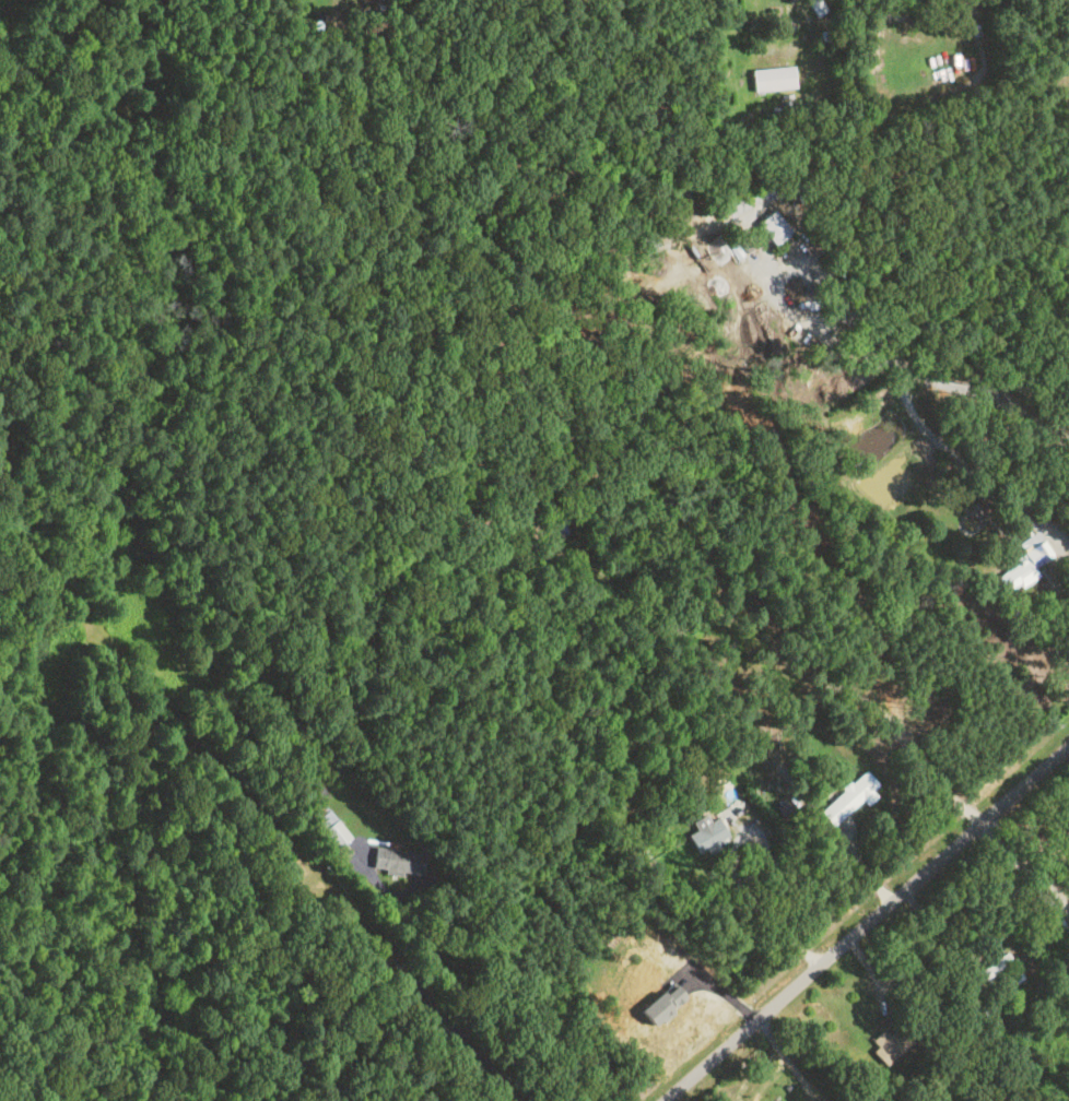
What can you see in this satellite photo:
building: (771, 78)
building: (772, 226)
road: (780, 271)
building: (982, 451)
road: (963, 463)
building: (1025, 560)
road: (933, 779)
building: (847, 797)
building: (327, 829)
building: (706, 833)
road: (858, 857)
building: (397, 861)
road: (1021, 866)
road: (753, 905)
road: (866, 920)
building: (989, 970)
road: (436, 1009)
building: (890, 1042)
road: (787, 1059)

